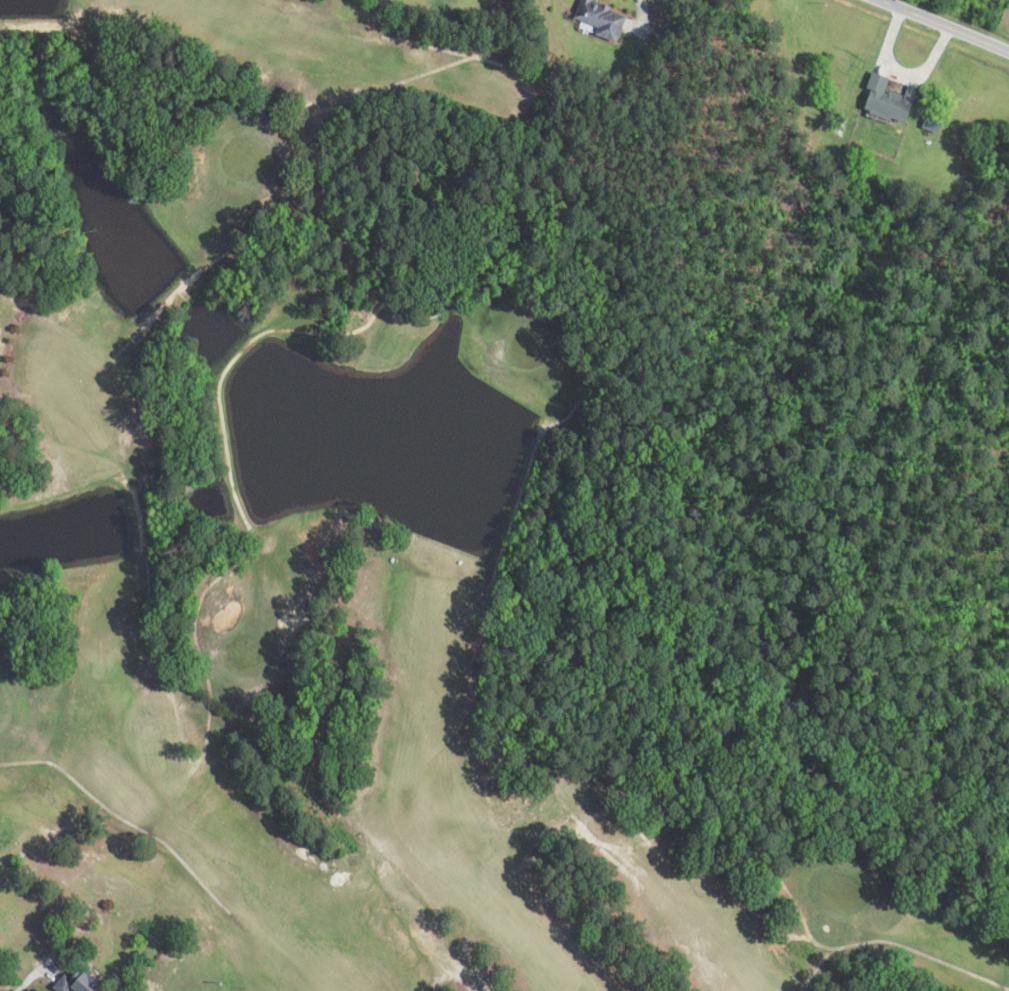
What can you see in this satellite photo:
road: (959, 19)
building: (601, 20)
building: (889, 101)
building: (934, 126)
building: (83, 982)

